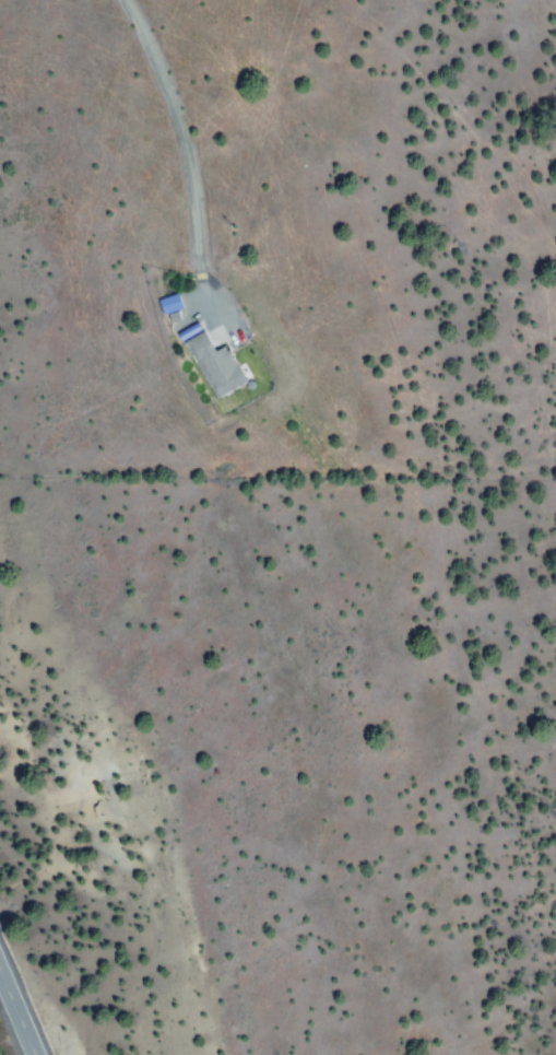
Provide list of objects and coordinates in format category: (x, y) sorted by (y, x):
building: (170, 304)
road: (16, 1013)

